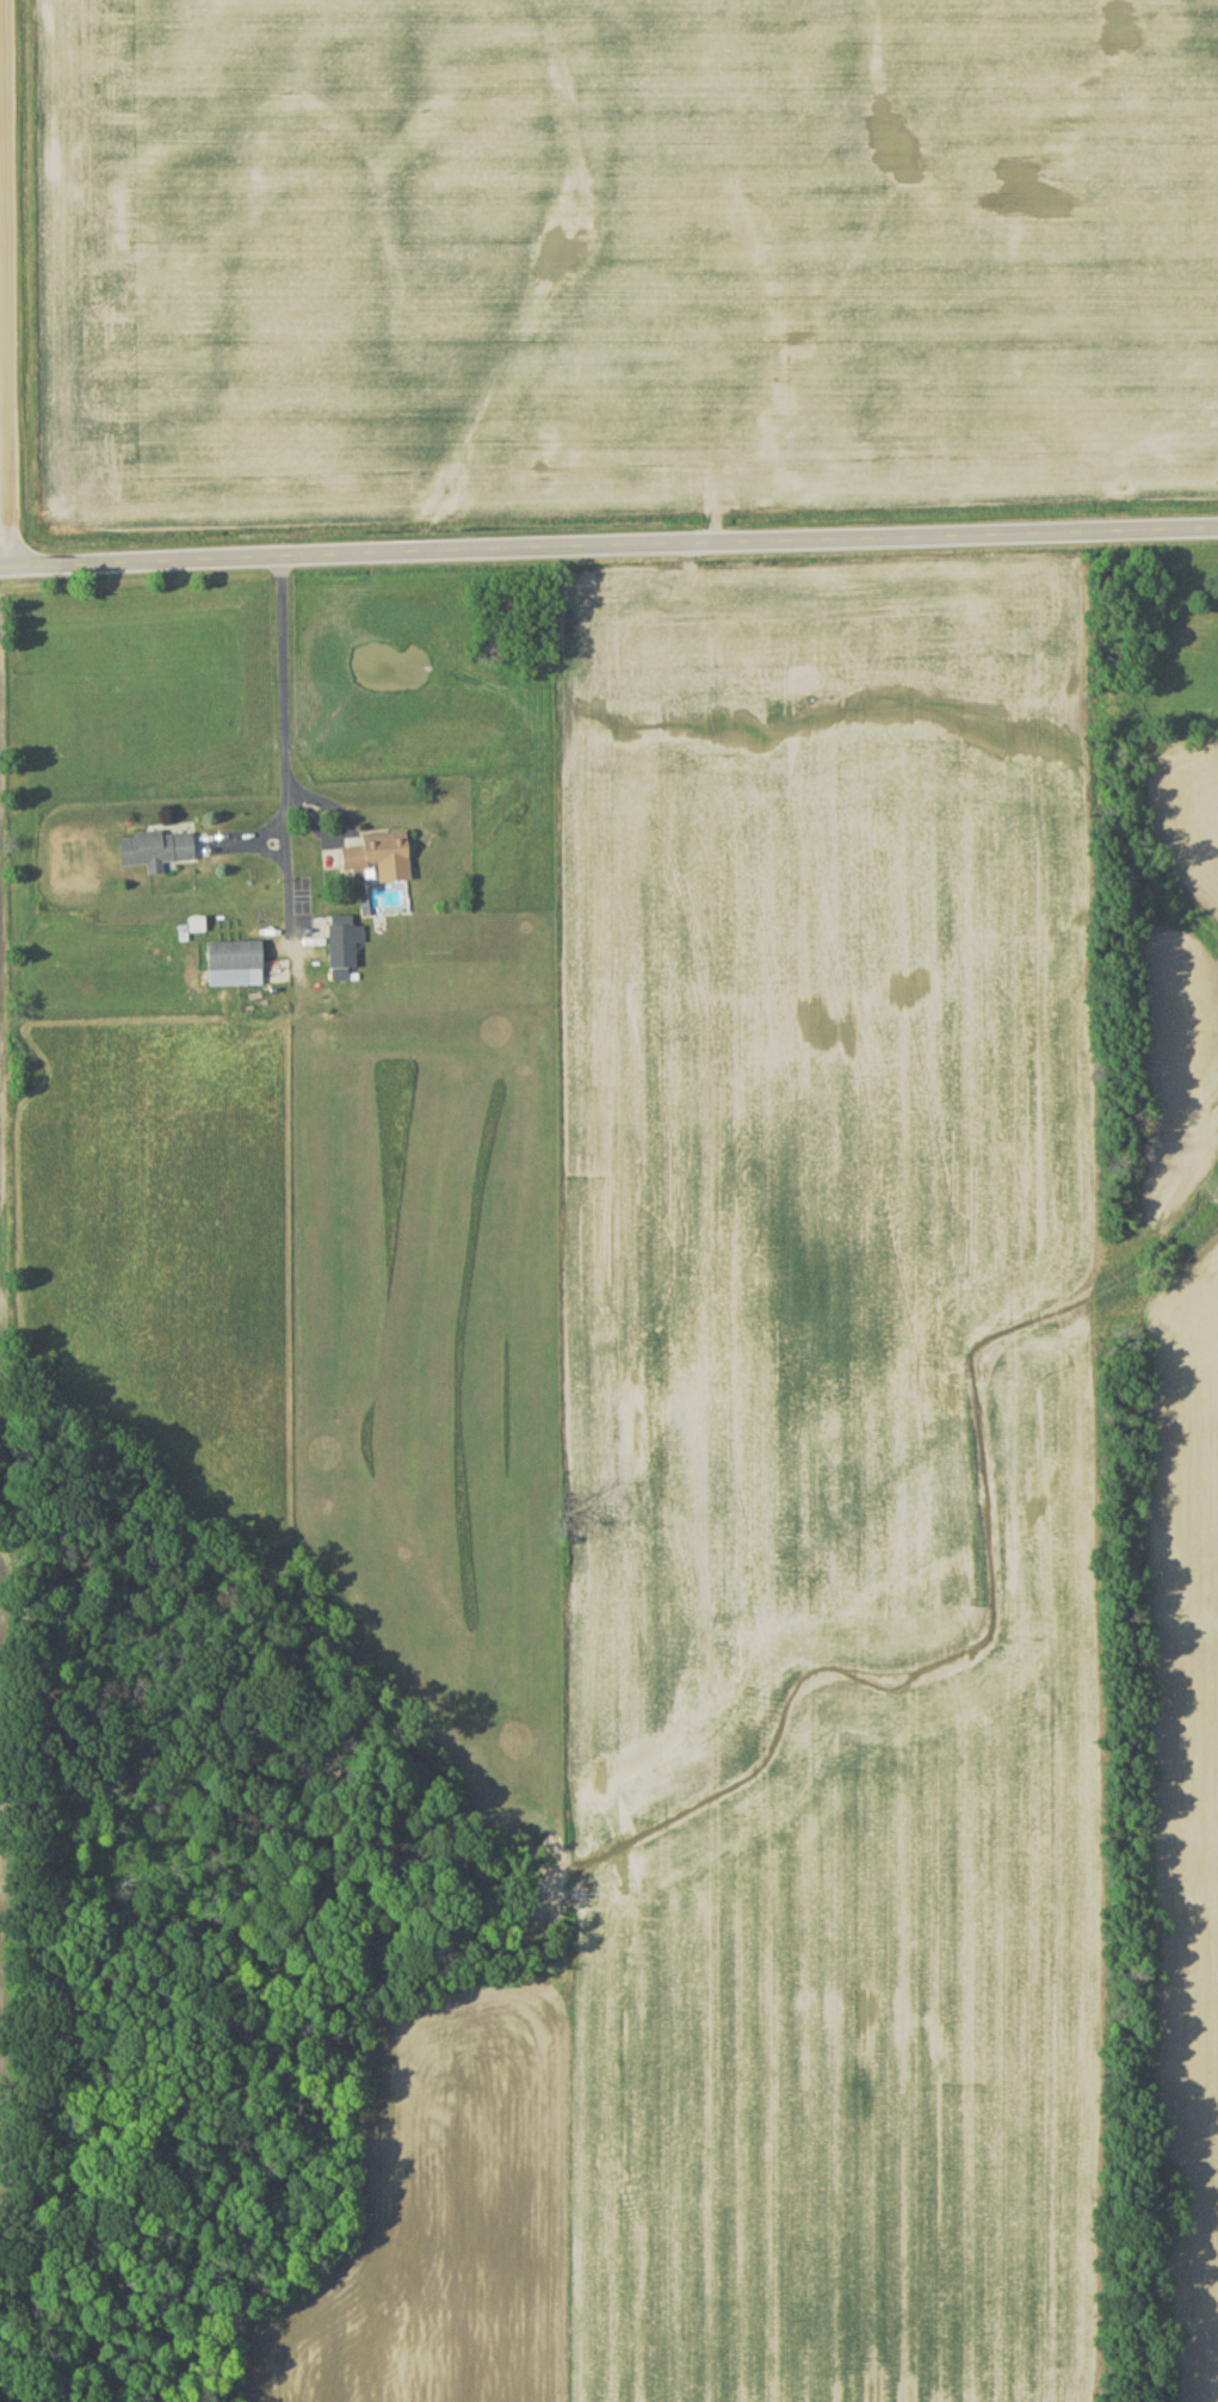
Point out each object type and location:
road: (6, 283)
road: (608, 548)
building: (1214, 644)
road: (284, 751)
building: (157, 854)
building: (382, 863)
building: (344, 951)
building: (237, 968)

